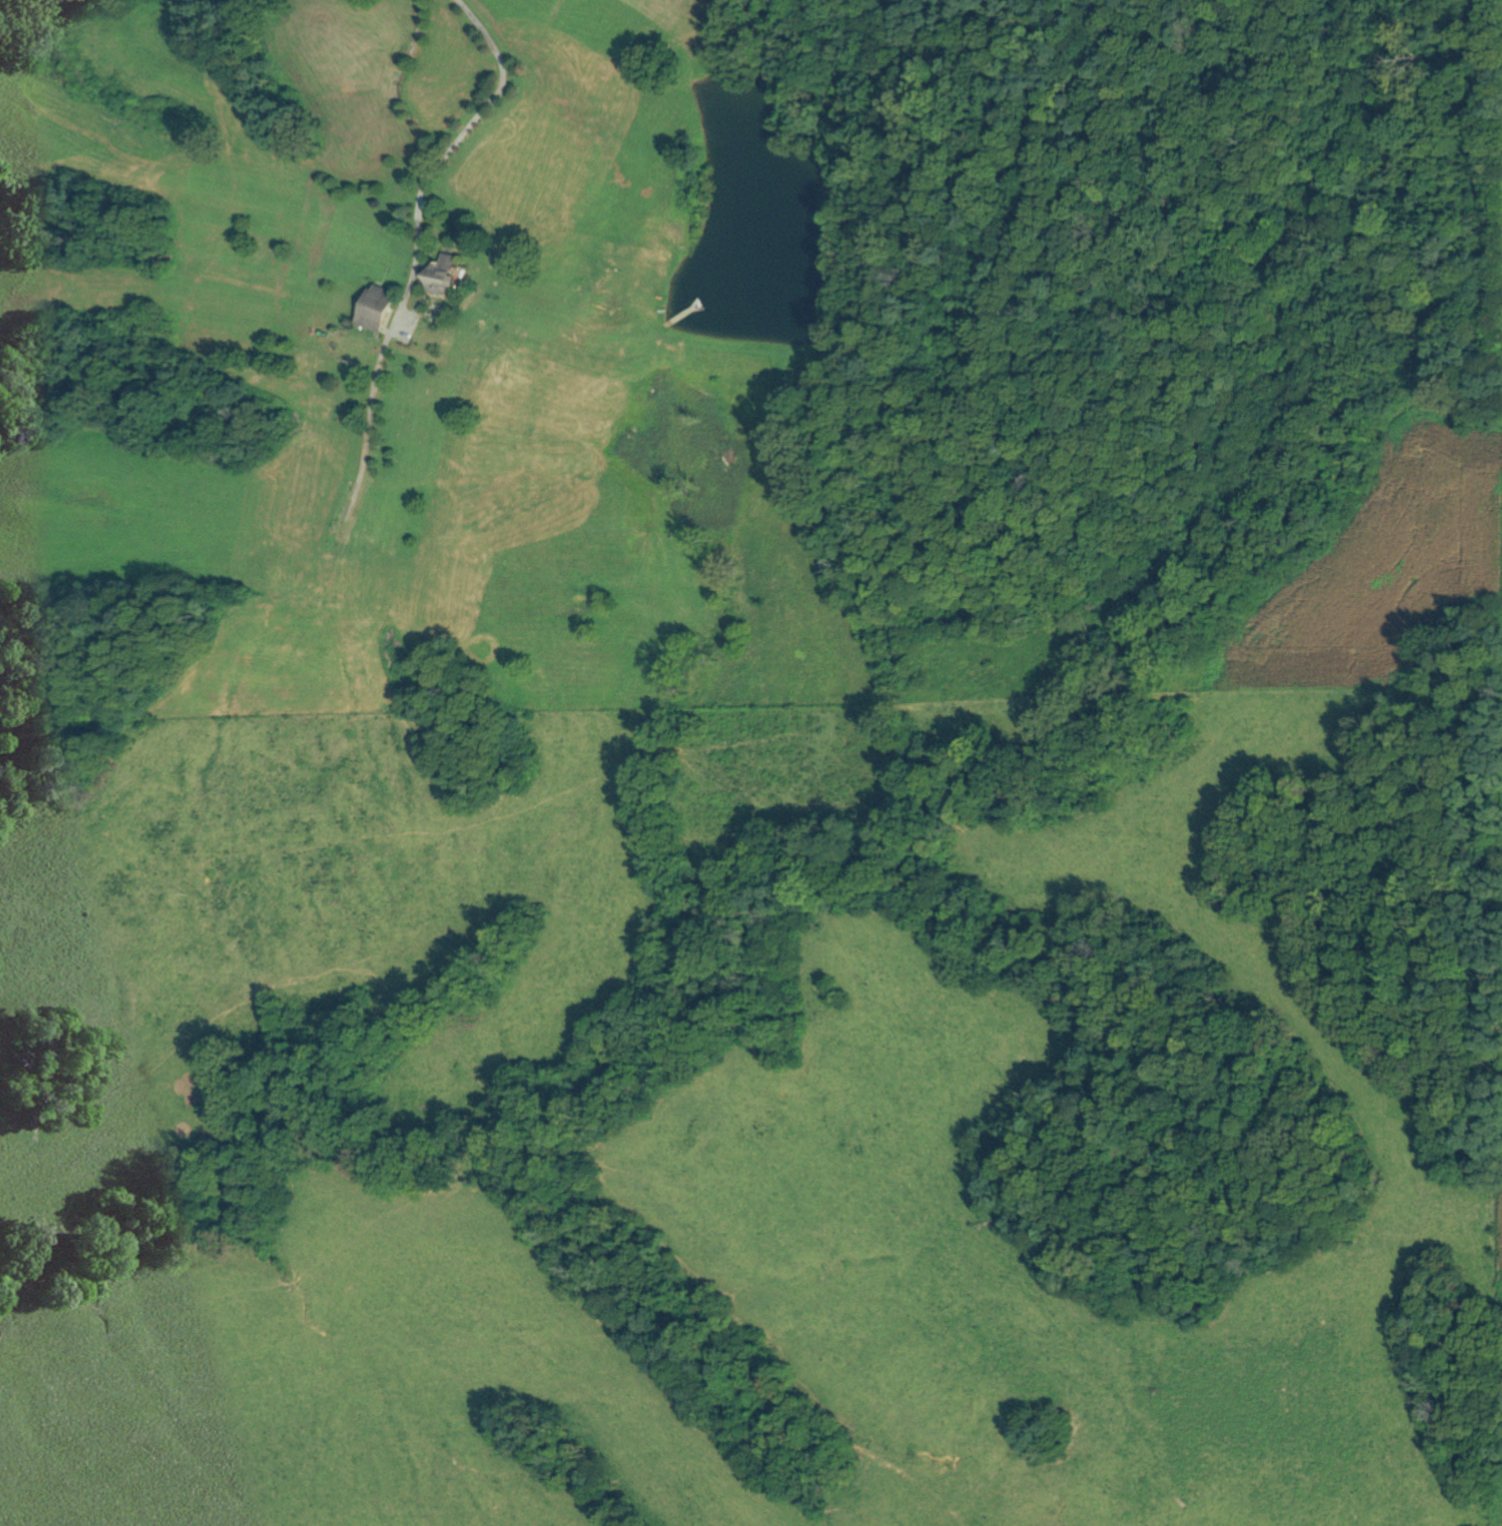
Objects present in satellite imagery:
building: (438, 276)
building: (370, 308)

